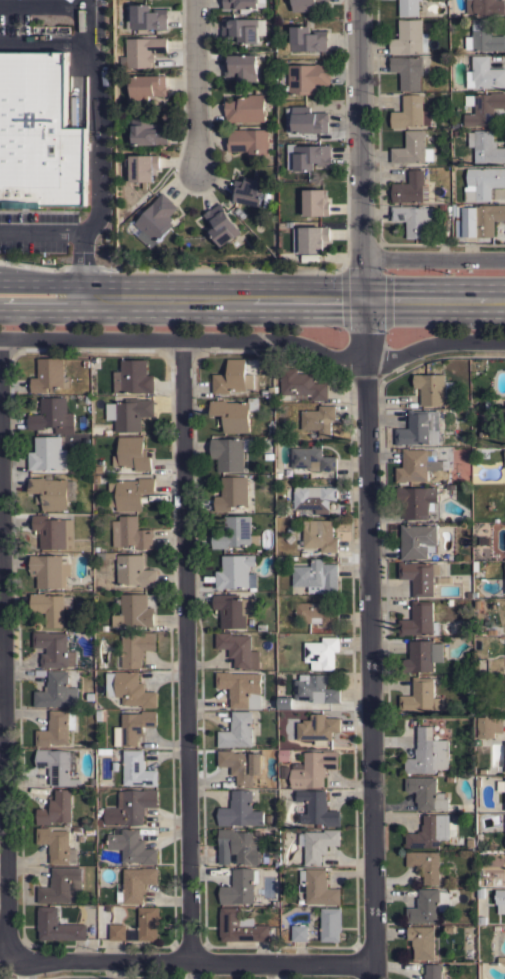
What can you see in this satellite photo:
building: (242, 3)
building: (306, 4)
building: (486, 6)
building: (408, 7)
building: (148, 17)
building: (240, 29)
building: (484, 36)
building: (409, 37)
building: (306, 38)
road: (41, 42)
building: (143, 50)
building: (241, 66)
building: (407, 70)
building: (484, 73)
building: (308, 77)
building: (146, 86)
road: (194, 87)
road: (98, 104)
building: (483, 107)
building: (245, 108)
building: (411, 112)
building: (309, 120)
building: (147, 132)
building: (39, 133)
building: (248, 141)
building: (485, 146)
building: (412, 148)
building: (307, 156)
building: (141, 167)
building: (482, 182)
building: (411, 187)
building: (247, 191)
building: (316, 201)
building: (413, 218)
building: (155, 220)
building: (476, 220)
building: (221, 224)
road: (41, 232)
building: (310, 241)
road: (435, 258)
road: (56, 285)
road: (307, 301)
traffic signals: (364, 302)
road: (56, 313)
road: (183, 339)
road: (435, 347)
building: (49, 375)
building: (132, 377)
building: (232, 377)
building: (302, 384)
building: (433, 388)
building: (270, 389)
building: (263, 391)
building: (85, 398)
building: (129, 413)
building: (234, 413)
building: (52, 415)
building: (318, 420)
building: (419, 428)
building: (47, 453)
building: (229, 453)
building: (132, 454)
building: (267, 456)
building: (311, 458)
building: (504, 458)
building: (415, 465)
building: (99, 468)
building: (95, 479)
road: (369, 489)
building: (50, 492)
building: (130, 493)
building: (232, 493)
building: (315, 498)
building: (417, 501)
building: (279, 512)
building: (54, 531)
building: (235, 532)
building: (130, 533)
building: (319, 535)
building: (417, 540)
building: (105, 555)
building: (50, 570)
building: (134, 571)
building: (236, 572)
building: (504, 575)
building: (317, 576)
building: (419, 577)
building: (448, 602)
building: (50, 607)
building: (233, 609)
building: (133, 611)
building: (316, 613)
building: (419, 620)
building: (104, 627)
building: (260, 627)
building: (136, 648)
road: (7, 649)
building: (54, 650)
building: (239, 650)
road: (191, 651)
building: (322, 652)
building: (422, 655)
building: (241, 688)
building: (315, 688)
building: (129, 689)
building: (53, 690)
building: (73, 695)
building: (420, 697)
building: (284, 702)
building: (98, 714)
building: (488, 726)
building: (133, 727)
building: (317, 727)
building: (56, 728)
building: (237, 731)
building: (104, 750)
building: (427, 752)
building: (283, 754)
building: (504, 756)
building: (56, 765)
building: (241, 765)
building: (114, 766)
building: (313, 768)
building: (137, 769)
building: (482, 771)
building: (449, 777)
building: (477, 781)
building: (501, 785)
building: (426, 793)
building: (504, 795)
building: (131, 807)
building: (316, 807)
building: (56, 808)
building: (240, 810)
building: (267, 817)
building: (504, 819)
building: (76, 828)
building: (89, 831)
building: (431, 831)
building: (79, 837)
building: (504, 837)
building: (469, 842)
building: (57, 844)
building: (318, 844)
building: (131, 845)
building: (237, 846)
building: (266, 858)
building: (276, 863)
building: (426, 864)
building: (137, 882)
building: (59, 885)
building: (240, 886)
building: (318, 887)
building: (479, 891)
building: (500, 900)
building: (428, 905)
building: (480, 919)
building: (148, 923)
building: (330, 924)
building: (57, 925)
building: (239, 926)
building: (496, 927)
building: (448, 928)
building: (118, 932)
building: (299, 932)
building: (422, 941)
road: (191, 961)
building: (433, 971)

